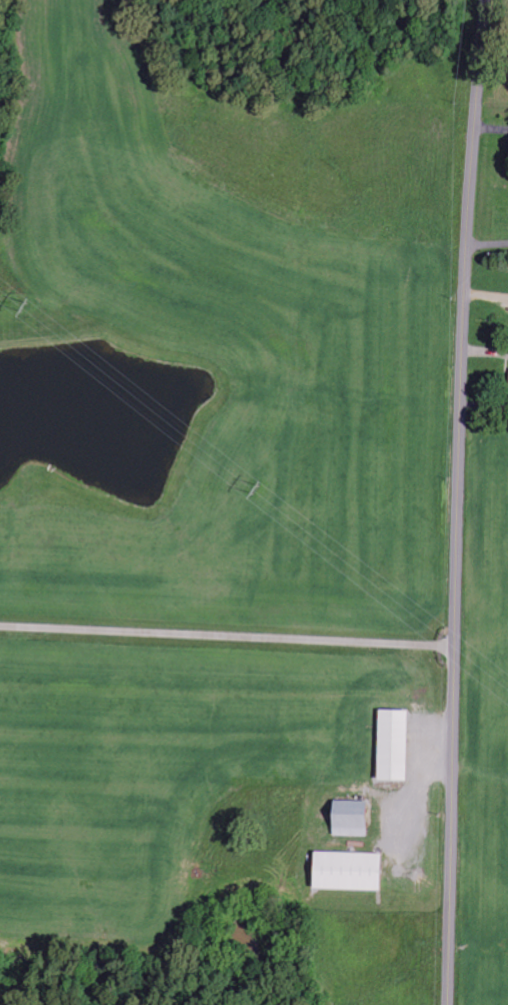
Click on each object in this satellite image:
power tower: (18, 310)
power tower: (256, 491)
road: (460, 502)
building: (396, 745)
building: (353, 819)
building: (351, 871)

